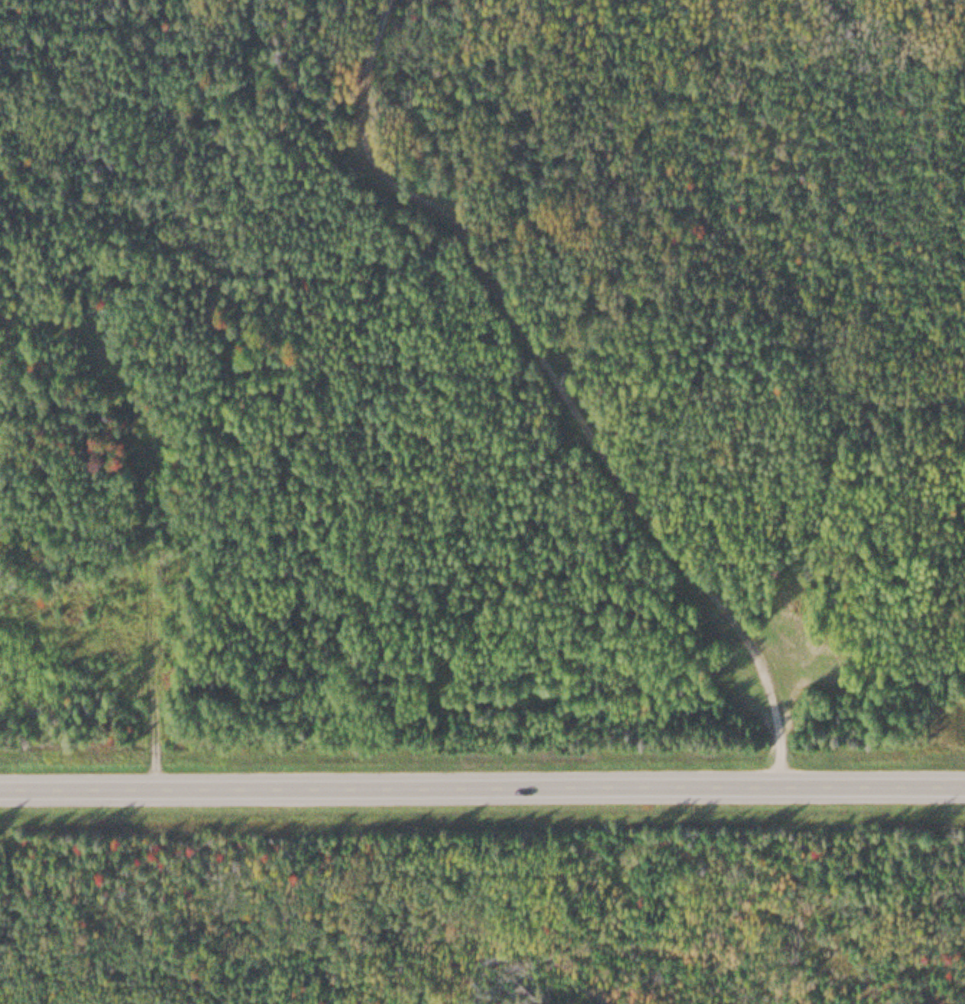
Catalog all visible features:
road: (556, 378)
road: (482, 777)
road: (138, 891)

